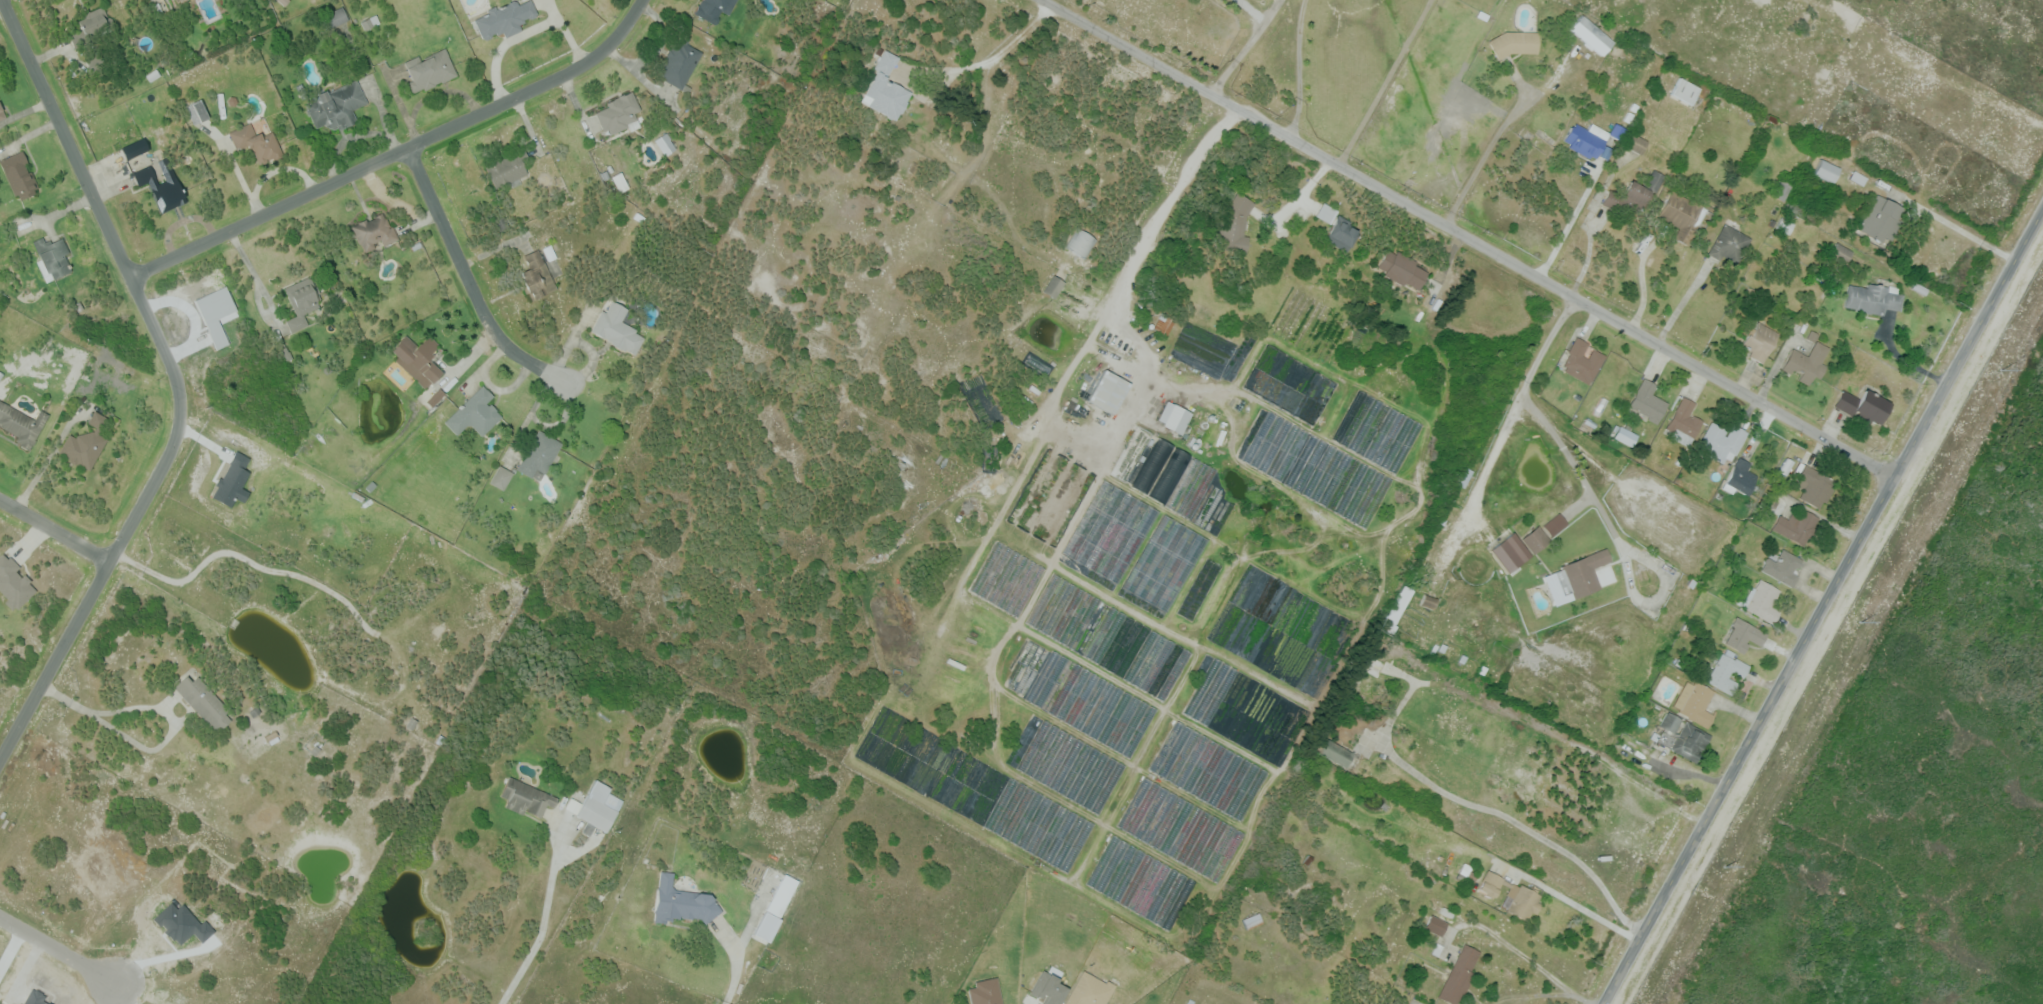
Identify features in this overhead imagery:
building: (283, 2)
building: (713, 9)
building: (336, 17)
building: (503, 18)
building: (369, 22)
building: (1592, 35)
building: (97, 37)
building: (1515, 43)
road: (1246, 48)
building: (680, 62)
road: (1300, 69)
building: (430, 71)
building: (1501, 81)
road: (1386, 83)
building: (887, 89)
building: (1685, 91)
building: (336, 105)
building: (197, 111)
building: (2, 112)
building: (619, 114)
building: (1615, 131)
building: (1585, 139)
building: (257, 143)
building: (1636, 143)
building: (666, 144)
building: (134, 148)
road: (1490, 148)
road: (397, 151)
building: (1604, 152)
building: (508, 165)
building: (1826, 171)
building: (20, 175)
building: (620, 182)
building: (161, 187)
building: (1781, 189)
building: (1641, 192)
building: (1325, 213)
building: (1681, 215)
building: (1880, 220)
road: (1571, 224)
road: (1952, 224)
building: (1234, 226)
building: (375, 230)
building: (1341, 235)
road: (1467, 237)
building: (1082, 243)
building: (1728, 244)
road: (1592, 247)
building: (1841, 252)
building: (54, 256)
building: (1402, 269)
building: (536, 276)
road: (467, 278)
road: (259, 280)
building: (1053, 286)
road: (1645, 286)
building: (1871, 297)
road: (272, 300)
building: (301, 301)
road: (1683, 304)
building: (1163, 325)
building: (618, 328)
building: (1759, 342)
road: (1901, 357)
building: (418, 359)
building: (1807, 360)
building: (1583, 361)
road: (176, 382)
building: (1107, 391)
building: (1648, 401)
building: (1862, 405)
building: (475, 413)
building: (1176, 419)
building: (1683, 422)
building: (21, 424)
building: (610, 430)
building: (1624, 435)
building: (1722, 442)
building: (85, 444)
building: (539, 455)
road: (44, 466)
building: (1165, 468)
building: (501, 477)
building: (1739, 478)
building: (1813, 485)
building: (1553, 524)
building: (1796, 526)
road: (53, 529)
building: (1111, 531)
building: (1536, 539)
building: (1509, 552)
building: (1165, 562)
building: (1784, 567)
building: (1581, 573)
building: (15, 581)
building: (1427, 601)
building: (1761, 601)
road: (1822, 605)
building: (1397, 609)
building: (1743, 635)
building: (1373, 665)
building: (1727, 673)
building: (203, 702)
building: (1694, 702)
building: (1681, 737)
road: (153, 749)
building: (1336, 752)
airport: (1904, 753)
building: (526, 797)
building: (595, 808)
building: (1209, 842)
building: (1468, 874)
building: (781, 895)
building: (1510, 895)
building: (682, 903)
building: (1252, 920)
building: (1436, 925)
road: (58, 948)
road: (166, 957)
building: (1056, 959)
road: (733, 970)
building: (1460, 976)
building: (1047, 988)
building: (1087, 990)
road: (125, 992)
building: (984, 992)

